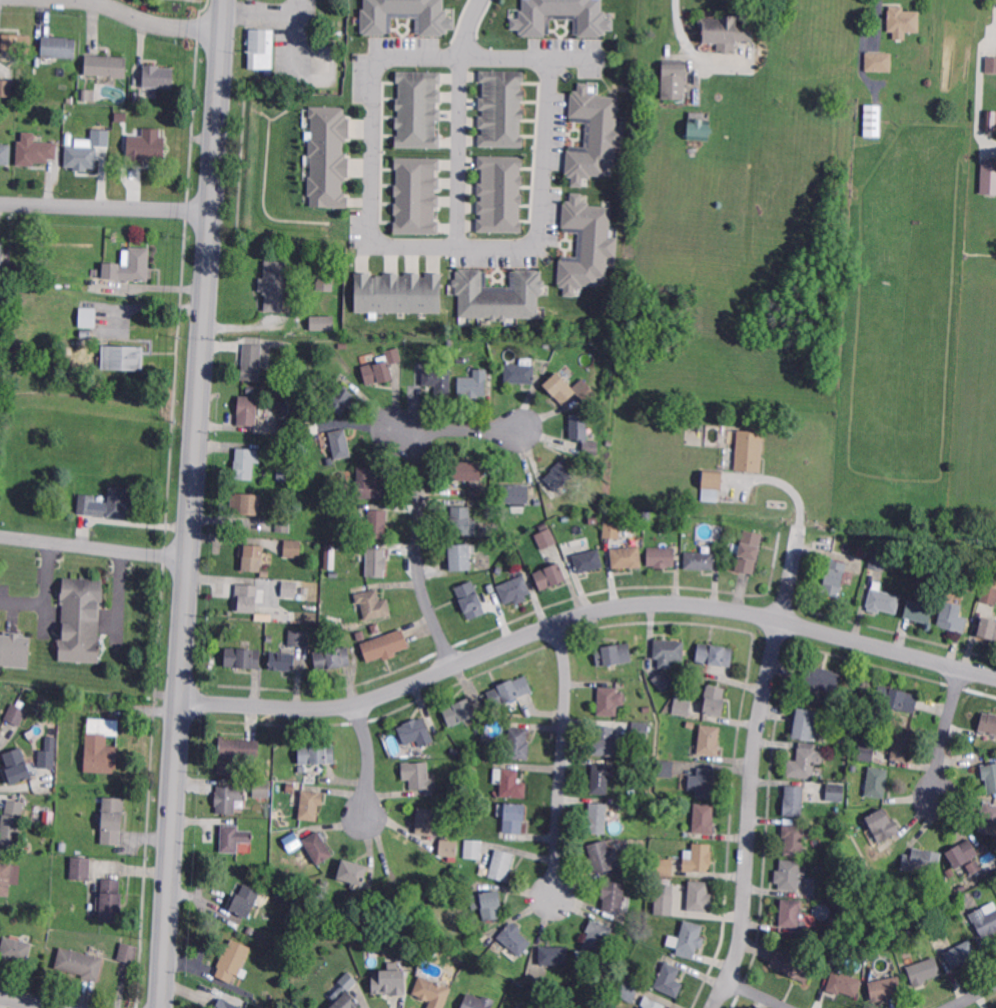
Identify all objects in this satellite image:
building: (406, 17)
building: (564, 17)
building: (902, 19)
road: (153, 24)
road: (467, 28)
building: (726, 29)
road: (677, 35)
building: (18, 43)
building: (59, 46)
building: (260, 46)
building: (880, 60)
building: (106, 64)
building: (990, 64)
building: (157, 74)
building: (674, 78)
building: (6, 89)
building: (86, 92)
building: (418, 110)
building: (501, 110)
building: (874, 119)
building: (991, 119)
building: (105, 120)
building: (141, 123)
building: (700, 128)
building: (595, 135)
building: (143, 145)
building: (85, 150)
building: (35, 151)
road: (459, 153)
building: (6, 154)
building: (329, 158)
building: (989, 178)
building: (500, 195)
building: (417, 196)
road: (104, 206)
road: (373, 239)
building: (587, 245)
building: (1, 253)
building: (131, 266)
building: (326, 283)
building: (274, 286)
building: (397, 293)
building: (499, 296)
building: (87, 315)
building: (322, 323)
building: (342, 343)
building: (608, 348)
building: (392, 355)
building: (123, 356)
building: (462, 359)
building: (253, 362)
building: (520, 370)
building: (379, 371)
building: (439, 378)
building: (475, 383)
building: (250, 388)
building: (559, 388)
building: (586, 392)
building: (340, 396)
building: (10, 406)
building: (249, 410)
building: (7, 425)
building: (580, 426)
building: (609, 440)
building: (341, 443)
building: (591, 448)
building: (750, 450)
building: (247, 461)
building: (467, 470)
building: (288, 471)
building: (559, 475)
building: (711, 480)
road: (777, 481)
building: (371, 483)
building: (515, 492)
building: (108, 503)
road: (193, 503)
building: (247, 504)
road: (420, 505)
building: (552, 505)
building: (646, 512)
building: (461, 519)
building: (378, 524)
building: (284, 525)
building: (693, 525)
building: (545, 528)
building: (613, 530)
building: (728, 539)
building: (547, 540)
road: (95, 545)
building: (291, 547)
building: (749, 550)
building: (328, 555)
building: (251, 556)
building: (461, 556)
building: (627, 556)
building: (662, 556)
building: (879, 558)
building: (587, 559)
building: (700, 559)
building: (377, 562)
building: (264, 571)
building: (333, 574)
building: (549, 576)
building: (835, 577)
building: (976, 582)
building: (335, 583)
building: (289, 587)
building: (515, 589)
road: (118, 590)
road: (45, 591)
building: (305, 591)
building: (989, 593)
building: (248, 596)
building: (471, 599)
building: (883, 600)
building: (373, 603)
building: (919, 610)
road: (584, 613)
building: (953, 616)
building: (80, 620)
building: (988, 628)
building: (299, 637)
building: (386, 645)
building: (669, 650)
building: (15, 652)
building: (614, 653)
building: (716, 653)
building: (244, 657)
building: (333, 657)
building: (282, 659)
building: (823, 677)
building: (664, 679)
building: (510, 690)
building: (716, 698)
building: (898, 698)
building: (610, 699)
building: (681, 702)
building: (645, 707)
building: (457, 710)
building: (17, 713)
building: (988, 722)
building: (805, 723)
building: (690, 725)
building: (1, 729)
building: (415, 729)
building: (641, 729)
road: (945, 731)
building: (605, 739)
building: (710, 739)
building: (520, 742)
building: (102, 744)
building: (902, 744)
building: (867, 748)
building: (318, 752)
building: (48, 753)
building: (235, 754)
road: (370, 759)
road: (563, 760)
building: (805, 762)
building: (642, 763)
building: (17, 764)
building: (666, 767)
road: (753, 767)
building: (303, 769)
building: (418, 773)
building: (990, 774)
building: (601, 778)
building: (878, 780)
building: (704, 781)
building: (513, 782)
building: (263, 787)
building: (836, 792)
building: (229, 796)
building: (794, 799)
building: (311, 803)
building: (630, 805)
building: (513, 815)
building: (596, 816)
building: (989, 817)
building: (47, 818)
building: (113, 818)
building: (705, 818)
building: (882, 823)
building: (11, 824)
building: (436, 832)
building: (232, 835)
building: (794, 838)
building: (293, 839)
building: (319, 846)
building: (474, 848)
building: (639, 849)
building: (963, 852)
building: (834, 854)
building: (603, 855)
building: (699, 856)
building: (409, 860)
building: (921, 860)
building: (502, 863)
building: (78, 865)
building: (666, 865)
building: (263, 867)
building: (805, 870)
building: (354, 871)
building: (789, 874)
building: (6, 877)
building: (614, 894)
building: (700, 895)
building: (112, 899)
building: (959, 899)
building: (247, 900)
building: (663, 902)
building: (489, 903)
building: (791, 911)
building: (943, 915)
building: (291, 919)
building: (984, 921)
building: (261, 935)
building: (598, 935)
building: (516, 937)
building: (688, 938)
building: (15, 948)
building: (962, 952)
building: (128, 954)
building: (554, 954)
building: (233, 959)
building: (81, 962)
building: (792, 964)
building: (924, 969)
building: (670, 978)
building: (347, 980)
building: (389, 982)
building: (844, 982)
building: (886, 986)
building: (630, 990)
building: (432, 992)
road: (758, 993)
road: (973, 996)
road: (27, 1001)
building: (345, 1001)
building: (476, 1001)
building: (652, 1003)
building: (225, 1004)

